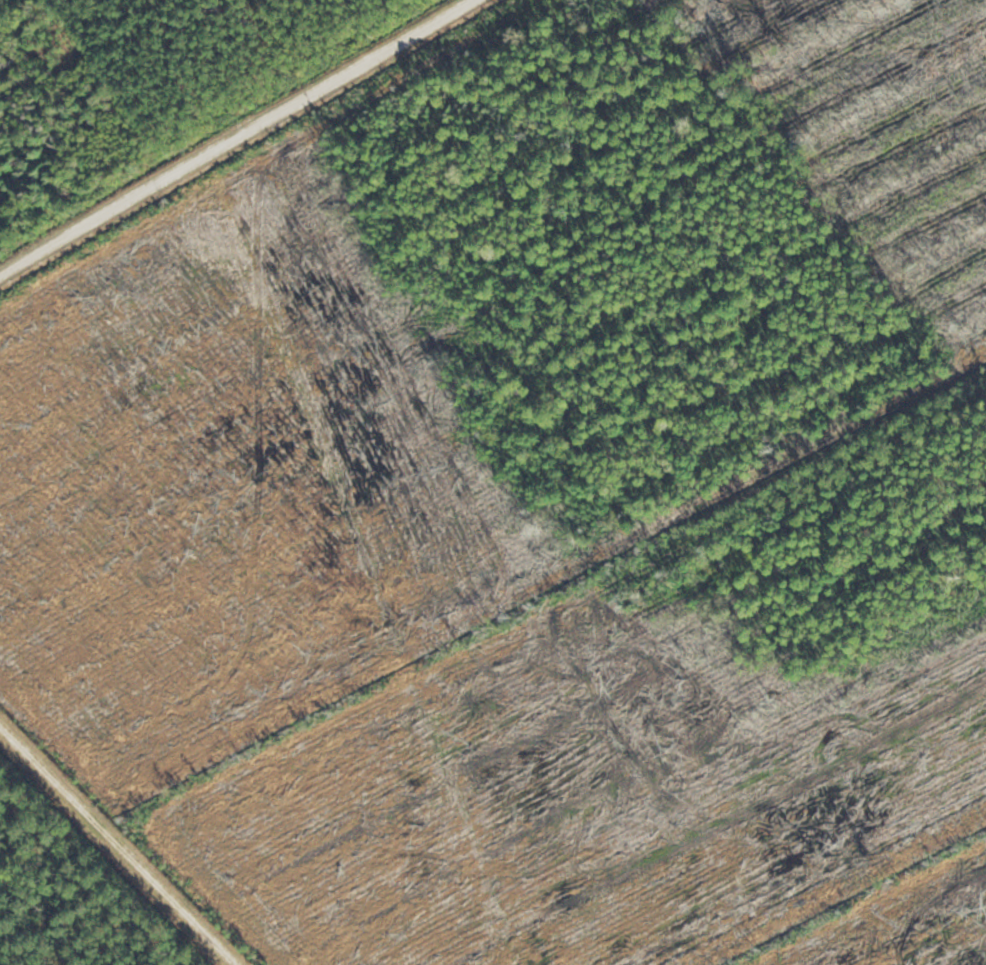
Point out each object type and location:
road: (243, 141)
road: (120, 843)

